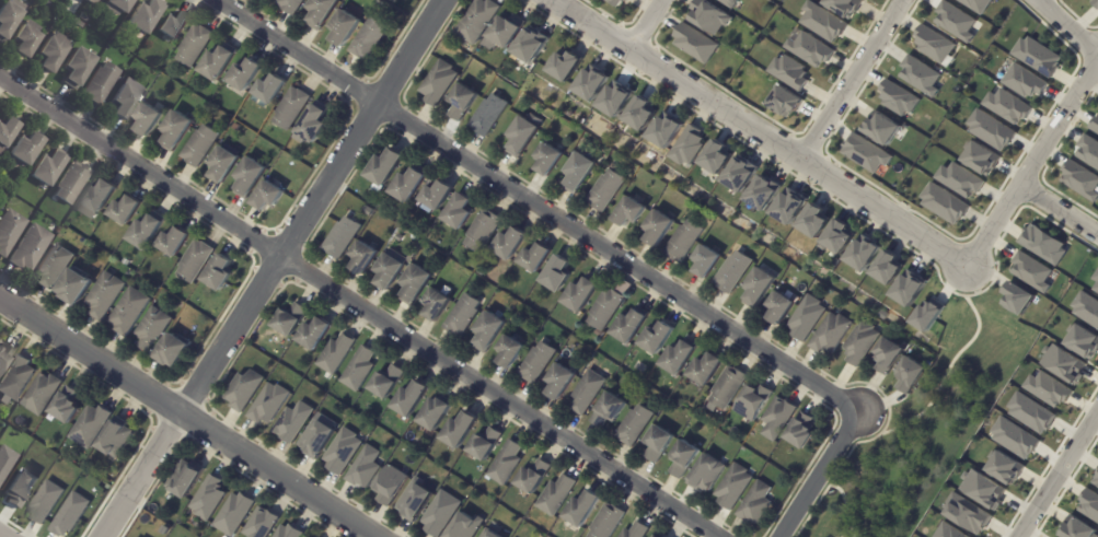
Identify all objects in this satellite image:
building: (408, 0)
building: (411, 0)
building: (1096, 1)
building: (90, 2)
building: (616, 2)
building: (728, 2)
building: (975, 4)
building: (117, 7)
building: (291, 7)
building: (844, 7)
building: (322, 13)
building: (709, 16)
building: (145, 17)
building: (9, 19)
building: (479, 22)
building: (822, 22)
building: (955, 22)
road: (640, 23)
building: (78, 24)
building: (173, 27)
building: (345, 30)
building: (43, 33)
building: (509, 33)
building: (27, 40)
building: (369, 40)
building: (693, 44)
building: (933, 44)
building: (532, 45)
building: (195, 47)
building: (809, 49)
building: (53, 54)
building: (1037, 57)
building: (219, 65)
building: (566, 65)
building: (159, 68)
building: (78, 70)
building: (789, 72)
building: (920, 75)
building: (246, 77)
road: (851, 79)
building: (1024, 82)
building: (592, 83)
building: (439, 84)
building: (101, 85)
building: (271, 91)
building: (898, 98)
building: (615, 101)
building: (784, 102)
building: (463, 103)
building: (126, 104)
building: (1006, 106)
building: (292, 110)
building: (642, 114)
building: (487, 116)
building: (149, 120)
road: (1052, 125)
building: (313, 126)
building: (1095, 126)
building: (881, 128)
building: (990, 130)
building: (666, 131)
building: (176, 132)
road: (759, 132)
building: (7, 133)
building: (522, 139)
building: (689, 145)
building: (199, 147)
building: (26, 150)
building: (1088, 152)
building: (866, 153)
building: (718, 156)
building: (981, 159)
building: (548, 161)
road: (139, 166)
building: (223, 166)
building: (386, 166)
building: (48, 170)
building: (577, 174)
building: (740, 175)
building: (250, 178)
building: (960, 179)
building: (1079, 180)
building: (411, 184)
building: (72, 185)
building: (604, 191)
building: (764, 192)
building: (438, 195)
building: (100, 197)
building: (268, 198)
building: (944, 205)
road: (535, 207)
road: (1059, 207)
building: (789, 208)
building: (460, 211)
building: (125, 212)
building: (629, 213)
building: (816, 220)
building: (484, 230)
building: (657, 230)
building: (10, 232)
building: (146, 233)
building: (840, 235)
building: (342, 237)
building: (683, 242)
building: (174, 243)
building: (511, 243)
building: (1042, 245)
building: (31, 249)
building: (864, 254)
building: (363, 257)
building: (536, 257)
building: (195, 264)
building: (706, 264)
building: (55, 267)
building: (889, 267)
road: (270, 268)
building: (483, 270)
building: (390, 271)
building: (1030, 271)
building: (558, 273)
building: (731, 273)
building: (219, 276)
building: (1095, 281)
building: (416, 283)
building: (76, 289)
building: (759, 289)
building: (911, 289)
building: (582, 294)
building: (104, 297)
building: (1018, 299)
building: (437, 304)
building: (606, 308)
building: (1086, 308)
building: (779, 310)
building: (129, 313)
building: (463, 315)
building: (928, 315)
building: (291, 319)
building: (806, 319)
building: (633, 325)
building: (152, 330)
building: (489, 331)
building: (315, 334)
building: (600, 334)
building: (831, 335)
building: (658, 337)
building: (1083, 341)
building: (859, 343)
building: (173, 350)
building: (511, 352)
building: (336, 353)
building: (4, 354)
building: (681, 357)
building: (887, 357)
building: (538, 363)
building: (1062, 363)
building: (359, 369)
building: (707, 369)
building: (909, 376)
building: (16, 380)
building: (562, 381)
building: (388, 382)
building: (729, 387)
building: (1047, 389)
building: (244, 390)
building: (588, 392)
building: (43, 393)
road: (497, 397)
building: (412, 398)
building: (754, 401)
building: (269, 404)
building: (67, 406)
building: (610, 410)
building: (437, 412)
building: (1030, 412)
road: (185, 418)
building: (778, 418)
building: (293, 422)
building: (90, 425)
building: (636, 425)
building: (461, 430)
building: (804, 432)
building: (1010, 436)
building: (116, 437)
building: (316, 439)
building: (660, 443)
building: (486, 444)
building: (343, 451)
building: (685, 458)
building: (4, 462)
building: (507, 463)
building: (365, 466)
building: (1004, 467)
building: (707, 474)
road: (818, 475)
road: (1059, 476)
building: (534, 477)
building: (185, 478)
building: (1095, 481)
building: (391, 483)
building: (108, 487)
building: (733, 487)
building: (19, 489)
building: (981, 489)
building: (556, 495)
building: (208, 499)
building: (414, 499)
building: (45, 502)
building: (756, 503)
building: (1088, 506)
building: (583, 509)
building: (964, 512)
building: (233, 514)
building: (441, 514)
building: (70, 515)
building: (609, 522)
building: (261, 524)
building: (465, 525)
building: (1075, 528)
building: (939, 529)
building: (637, 530)
building: (289, 532)
road: (3, 534)
building: (489, 534)
building: (656, 536)

